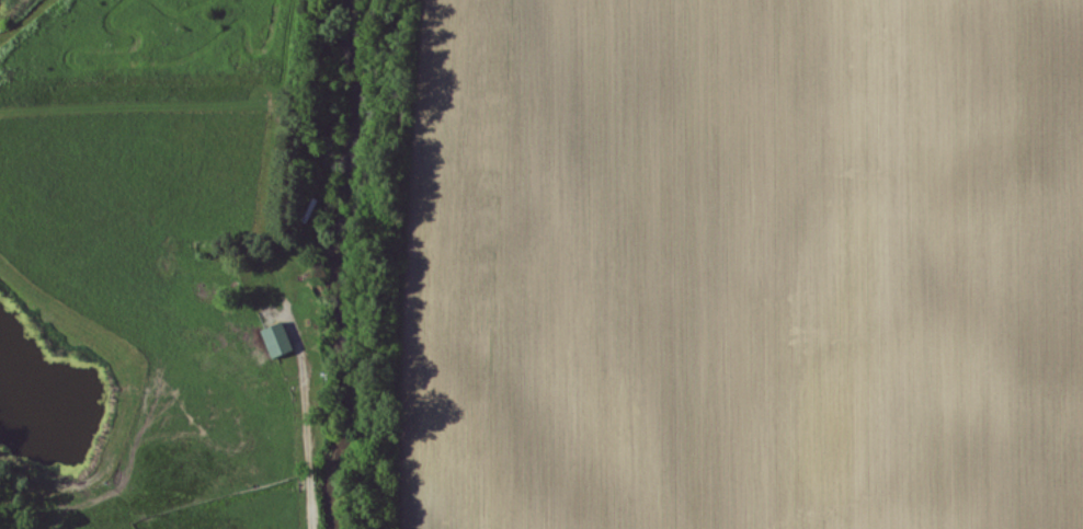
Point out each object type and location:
building: (275, 340)

